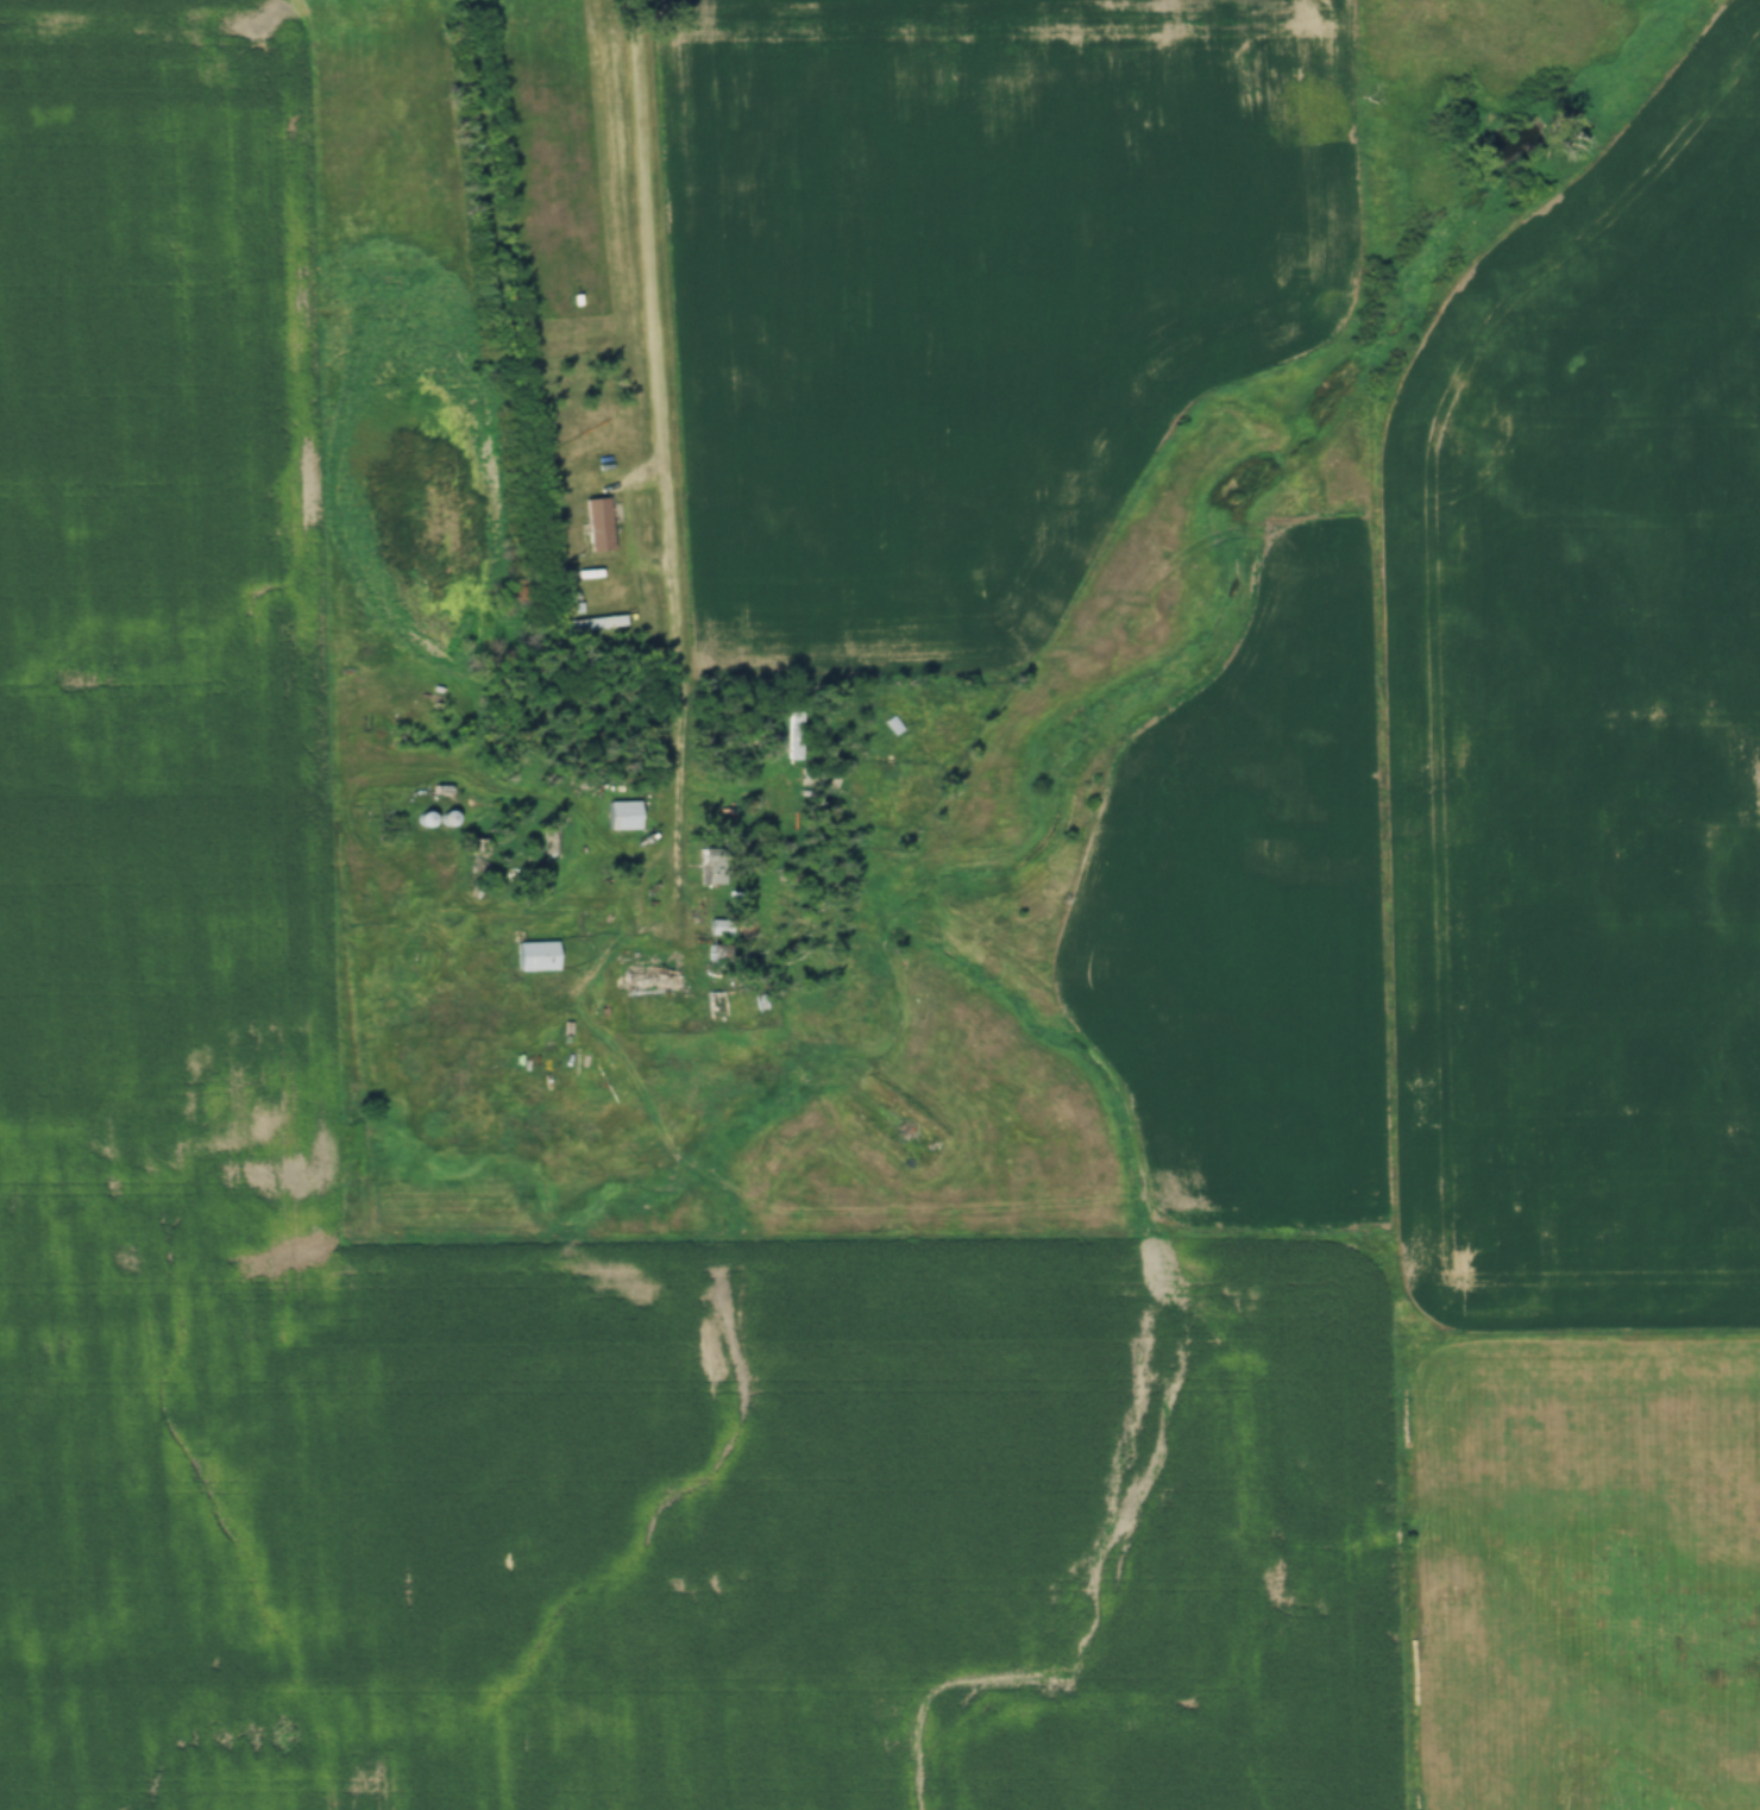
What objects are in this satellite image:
road: (661, 448)
building: (598, 526)
building: (893, 725)
building: (793, 736)
building: (818, 778)
building: (623, 816)
building: (710, 869)
building: (721, 956)
building: (535, 957)
building: (647, 982)

